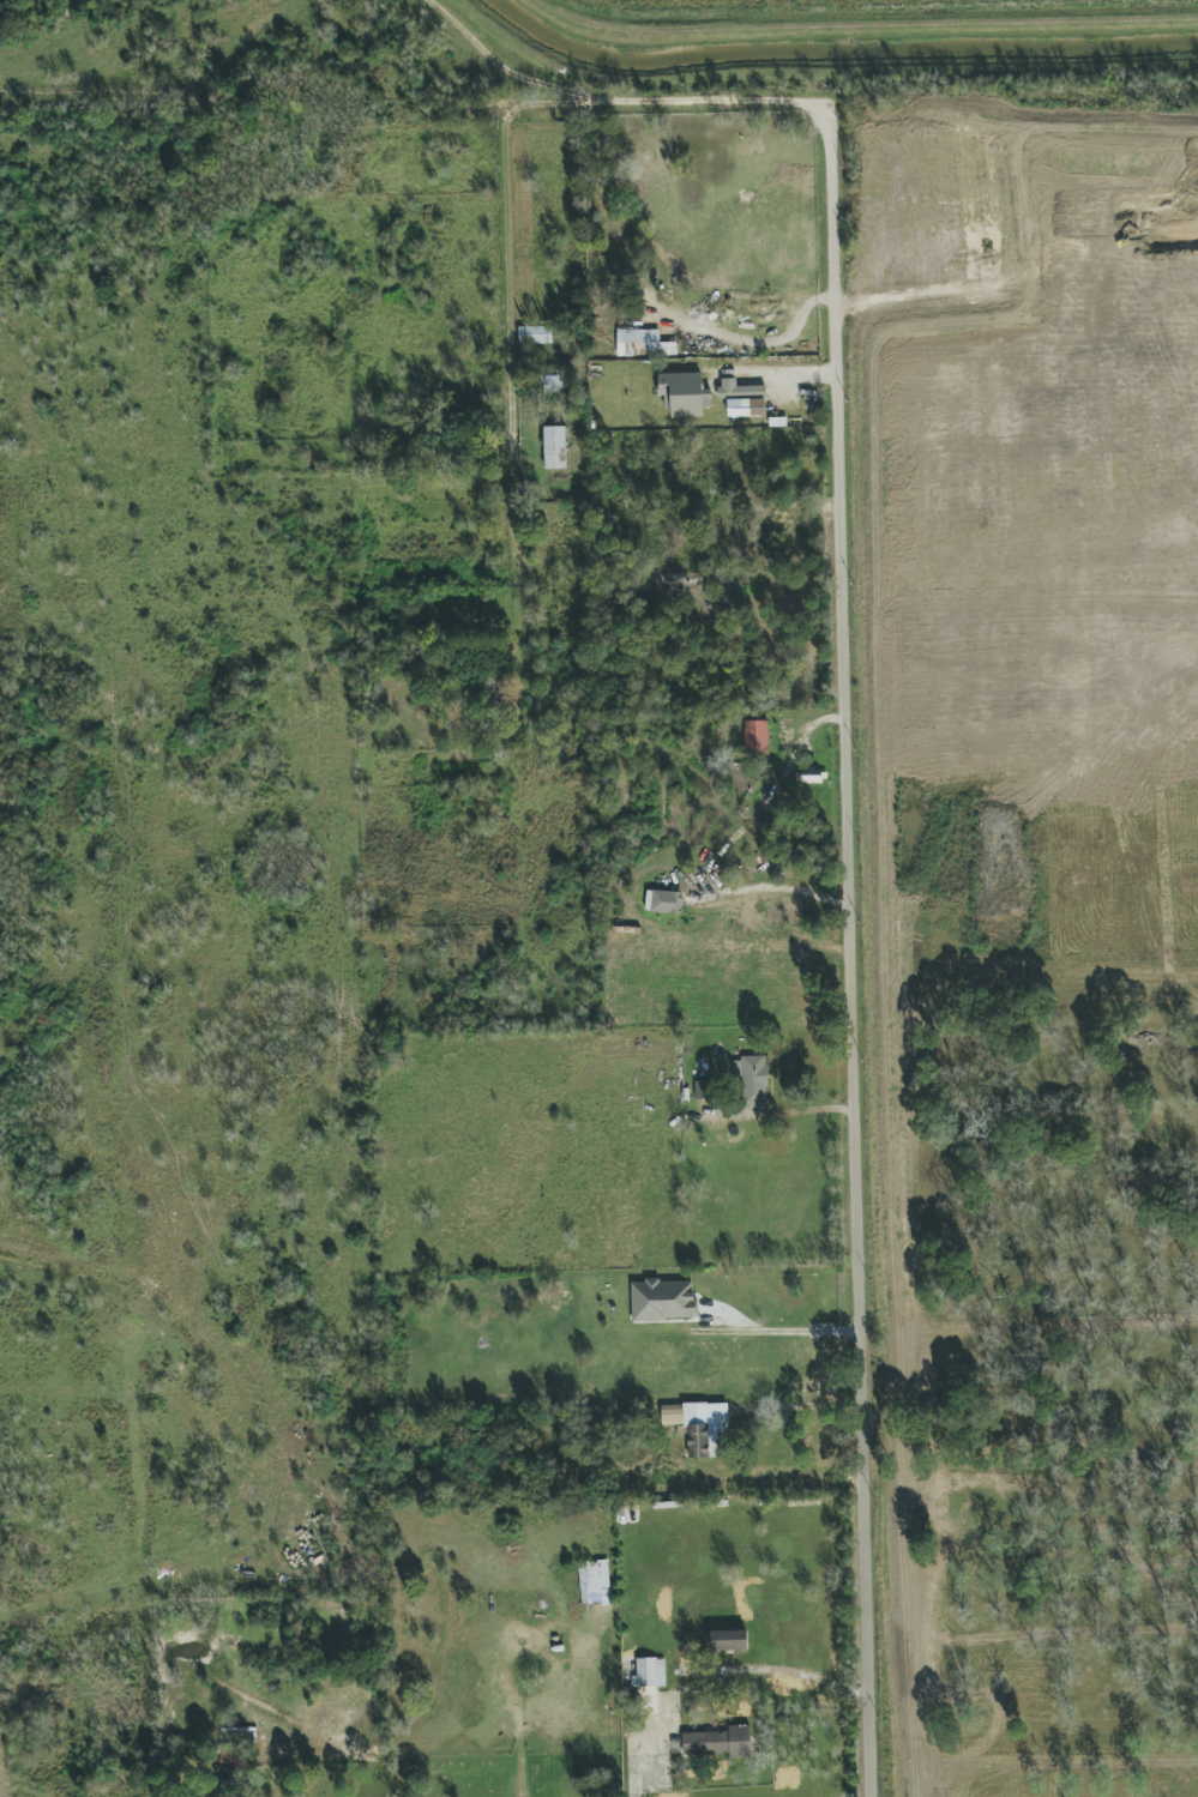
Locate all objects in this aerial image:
building: (535, 334)
building: (640, 343)
road: (782, 373)
building: (550, 384)
building: (684, 394)
building: (742, 398)
road: (517, 408)
building: (554, 447)
building: (755, 736)
road: (785, 886)
building: (663, 901)
road: (856, 955)
building: (754, 1081)
building: (704, 1090)
road: (787, 1111)
building: (663, 1299)
road: (776, 1331)
building: (700, 1427)
building: (729, 1640)
road: (783, 1671)
building: (649, 1672)
building: (720, 1742)
building: (230, 1757)
road: (636, 1781)
building: (227, 1787)

